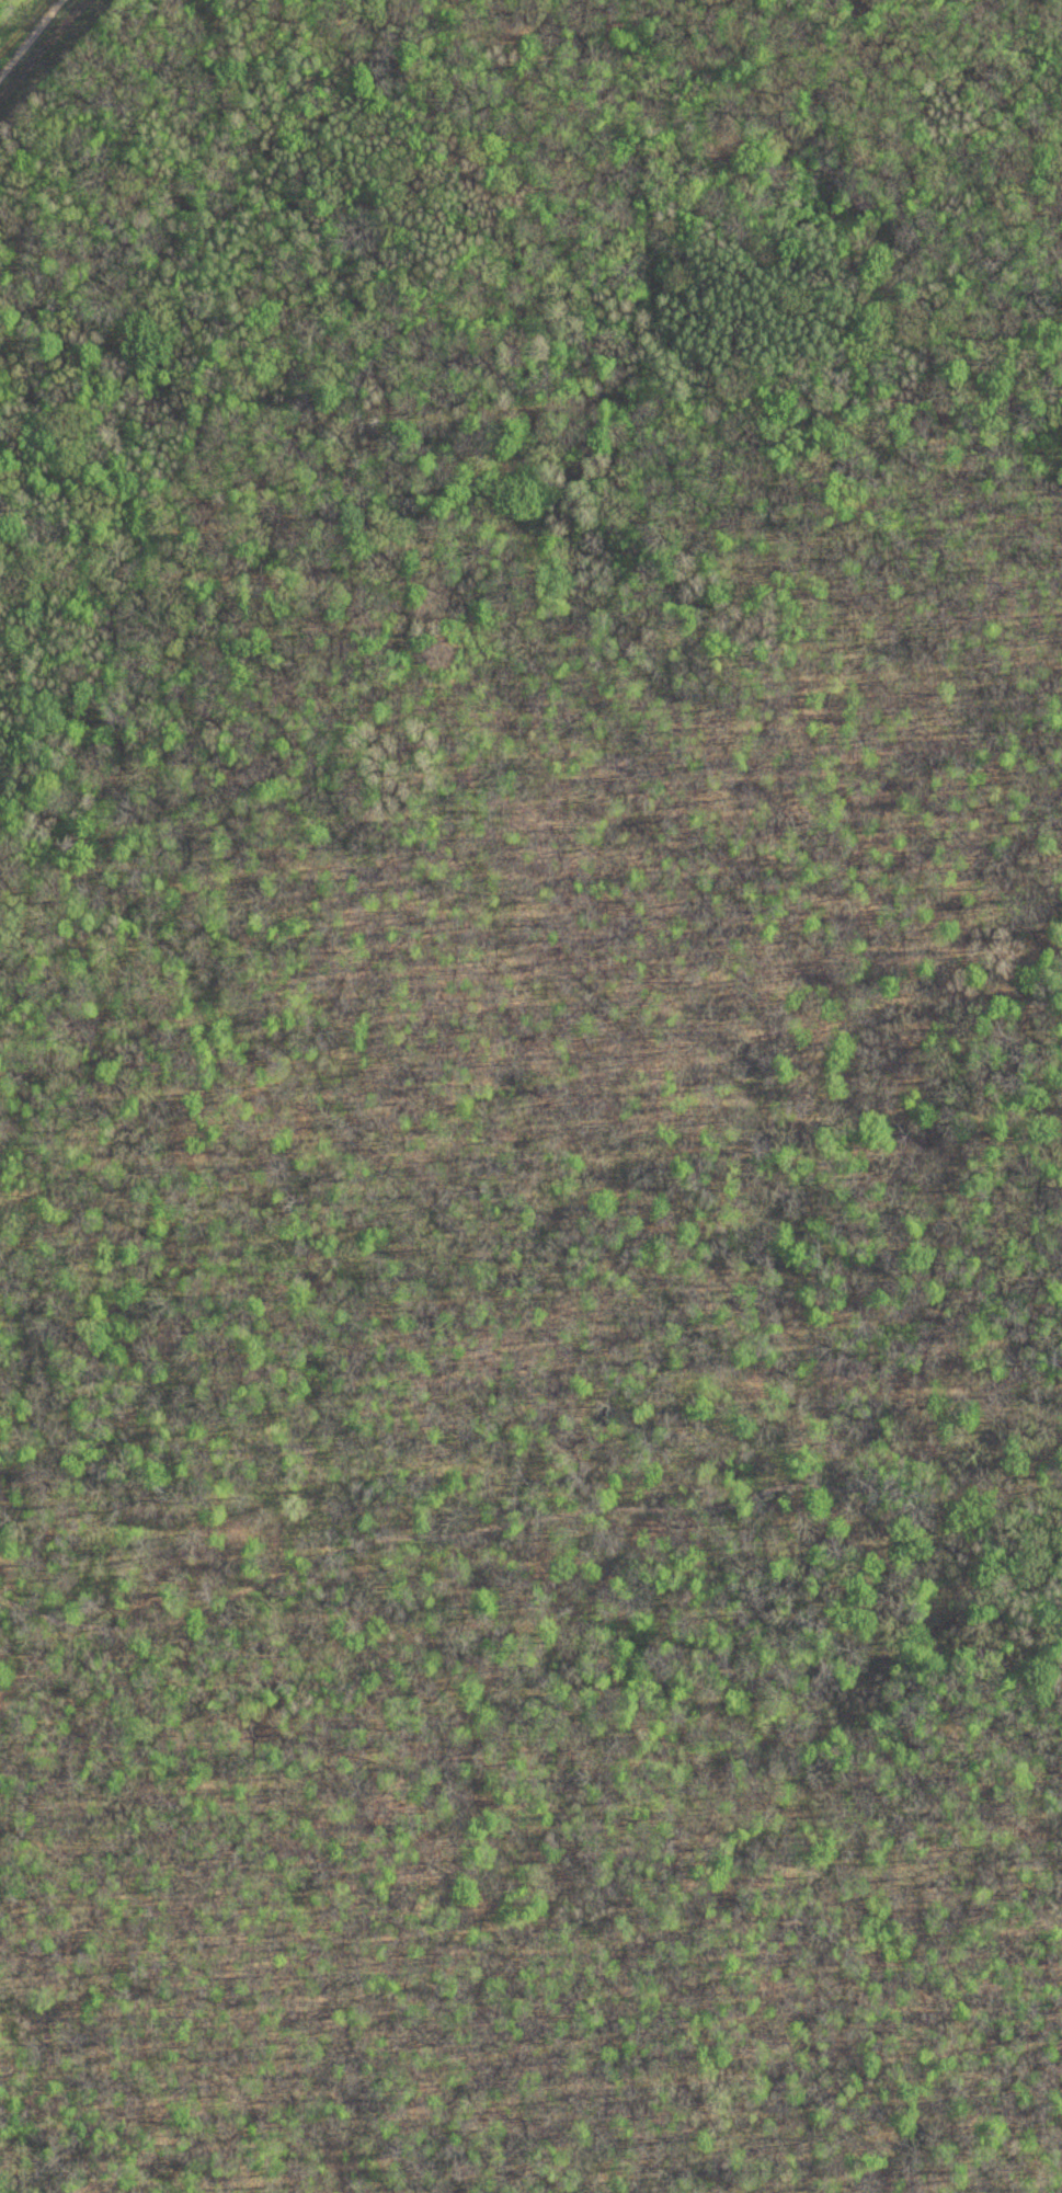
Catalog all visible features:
park: (530, 1096)
road: (538, 1106)
road: (1019, 1507)
road: (480, 1527)

